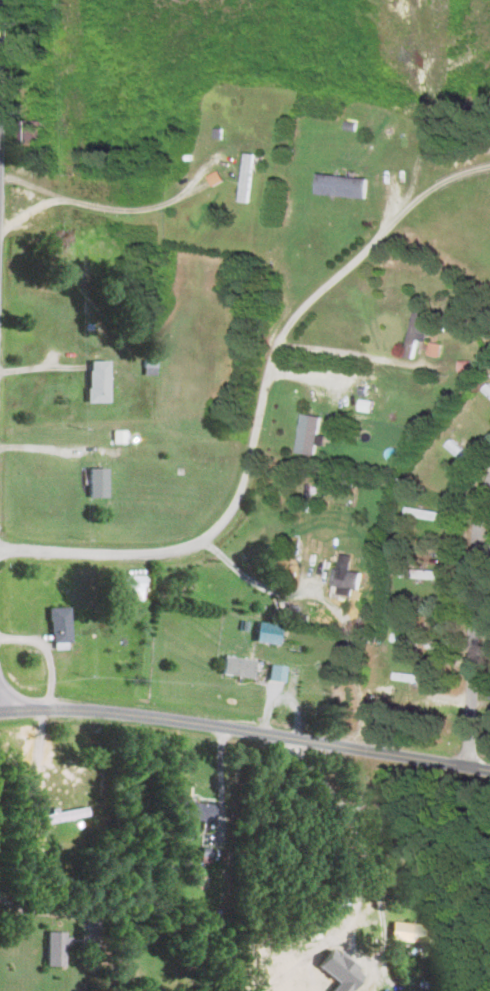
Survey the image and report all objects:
road: (1, 69)
road: (449, 177)
road: (32, 184)
building: (340, 185)
road: (135, 210)
road: (32, 213)
building: (59, 236)
building: (415, 333)
building: (95, 381)
building: (364, 405)
road: (264, 406)
building: (308, 434)
building: (118, 436)
road: (58, 448)
building: (95, 482)
road: (479, 517)
road: (483, 549)
building: (429, 574)
building: (346, 580)
road: (255, 584)
building: (129, 587)
building: (289, 612)
building: (57, 624)
building: (265, 632)
road: (48, 655)
road: (474, 658)
building: (235, 667)
building: (275, 673)
road: (245, 731)
road: (36, 759)
road: (220, 784)
building: (195, 811)
road: (410, 841)
road: (367, 857)
road: (41, 912)
building: (408, 933)
building: (53, 948)

